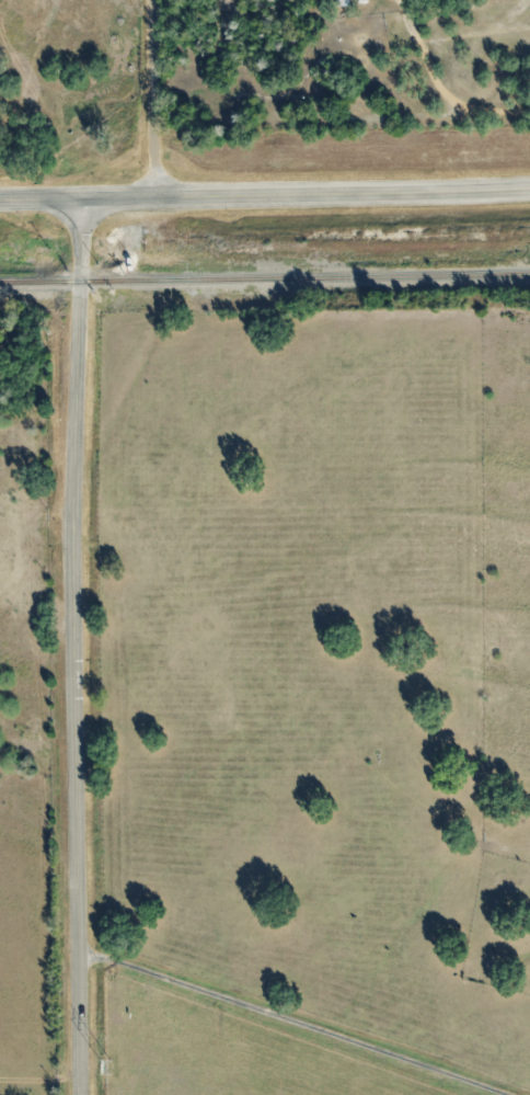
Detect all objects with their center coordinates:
building: (339, 3)
road: (152, 99)
road: (306, 195)
road: (41, 199)
railway: (265, 278)
road: (73, 647)
road: (291, 1020)
power tower: (102, 1070)

